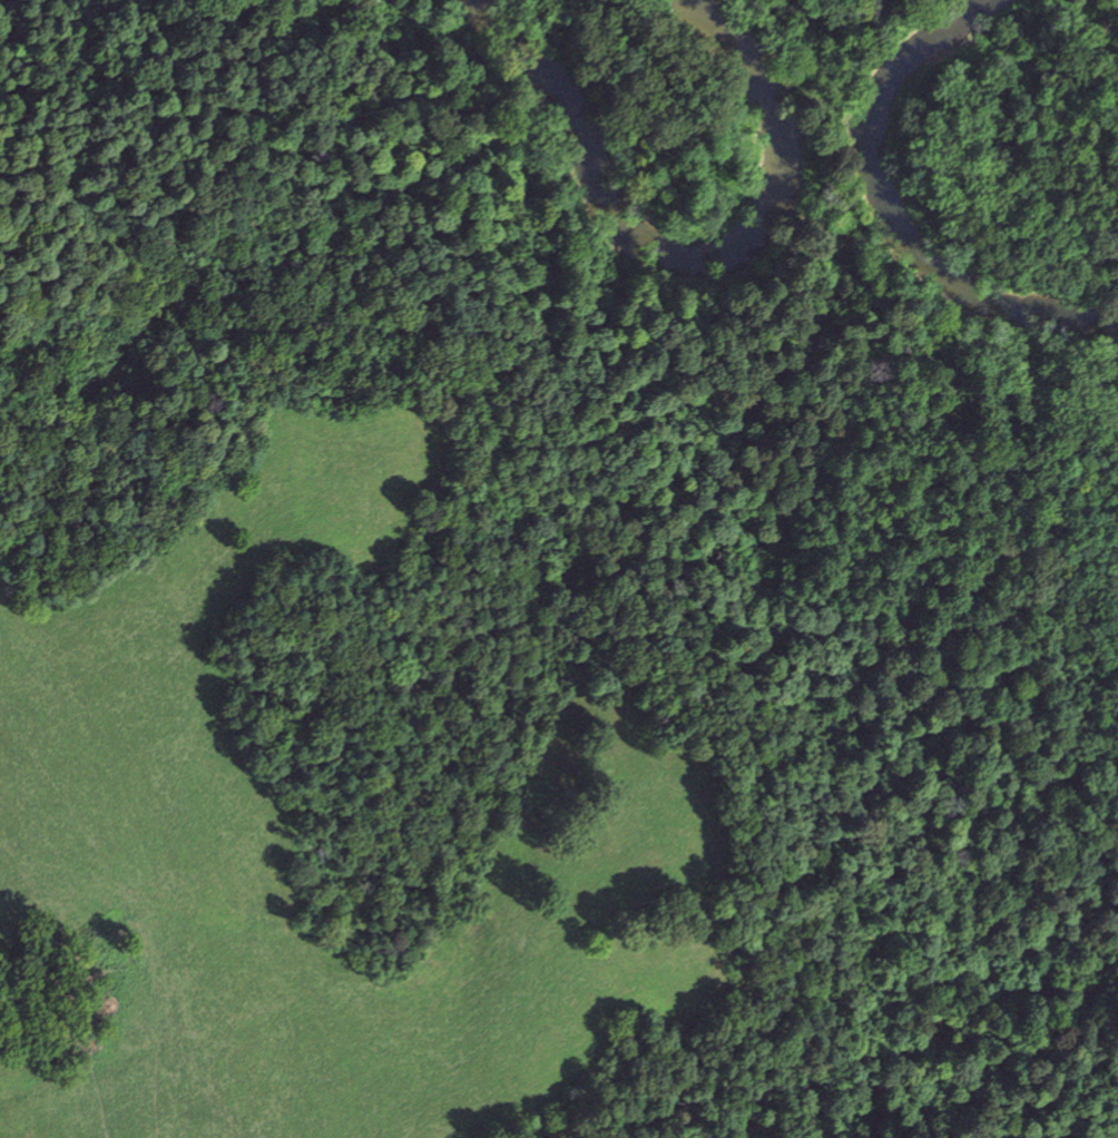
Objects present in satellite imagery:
road: (27, 1090)

